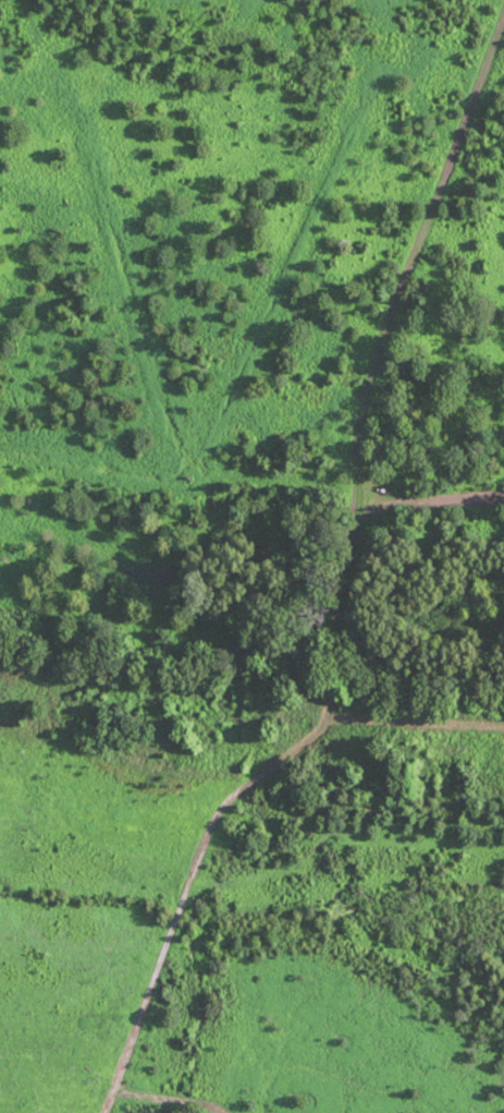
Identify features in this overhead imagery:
road: (382, 351)
road: (422, 483)
road: (159, 689)
road: (232, 821)

